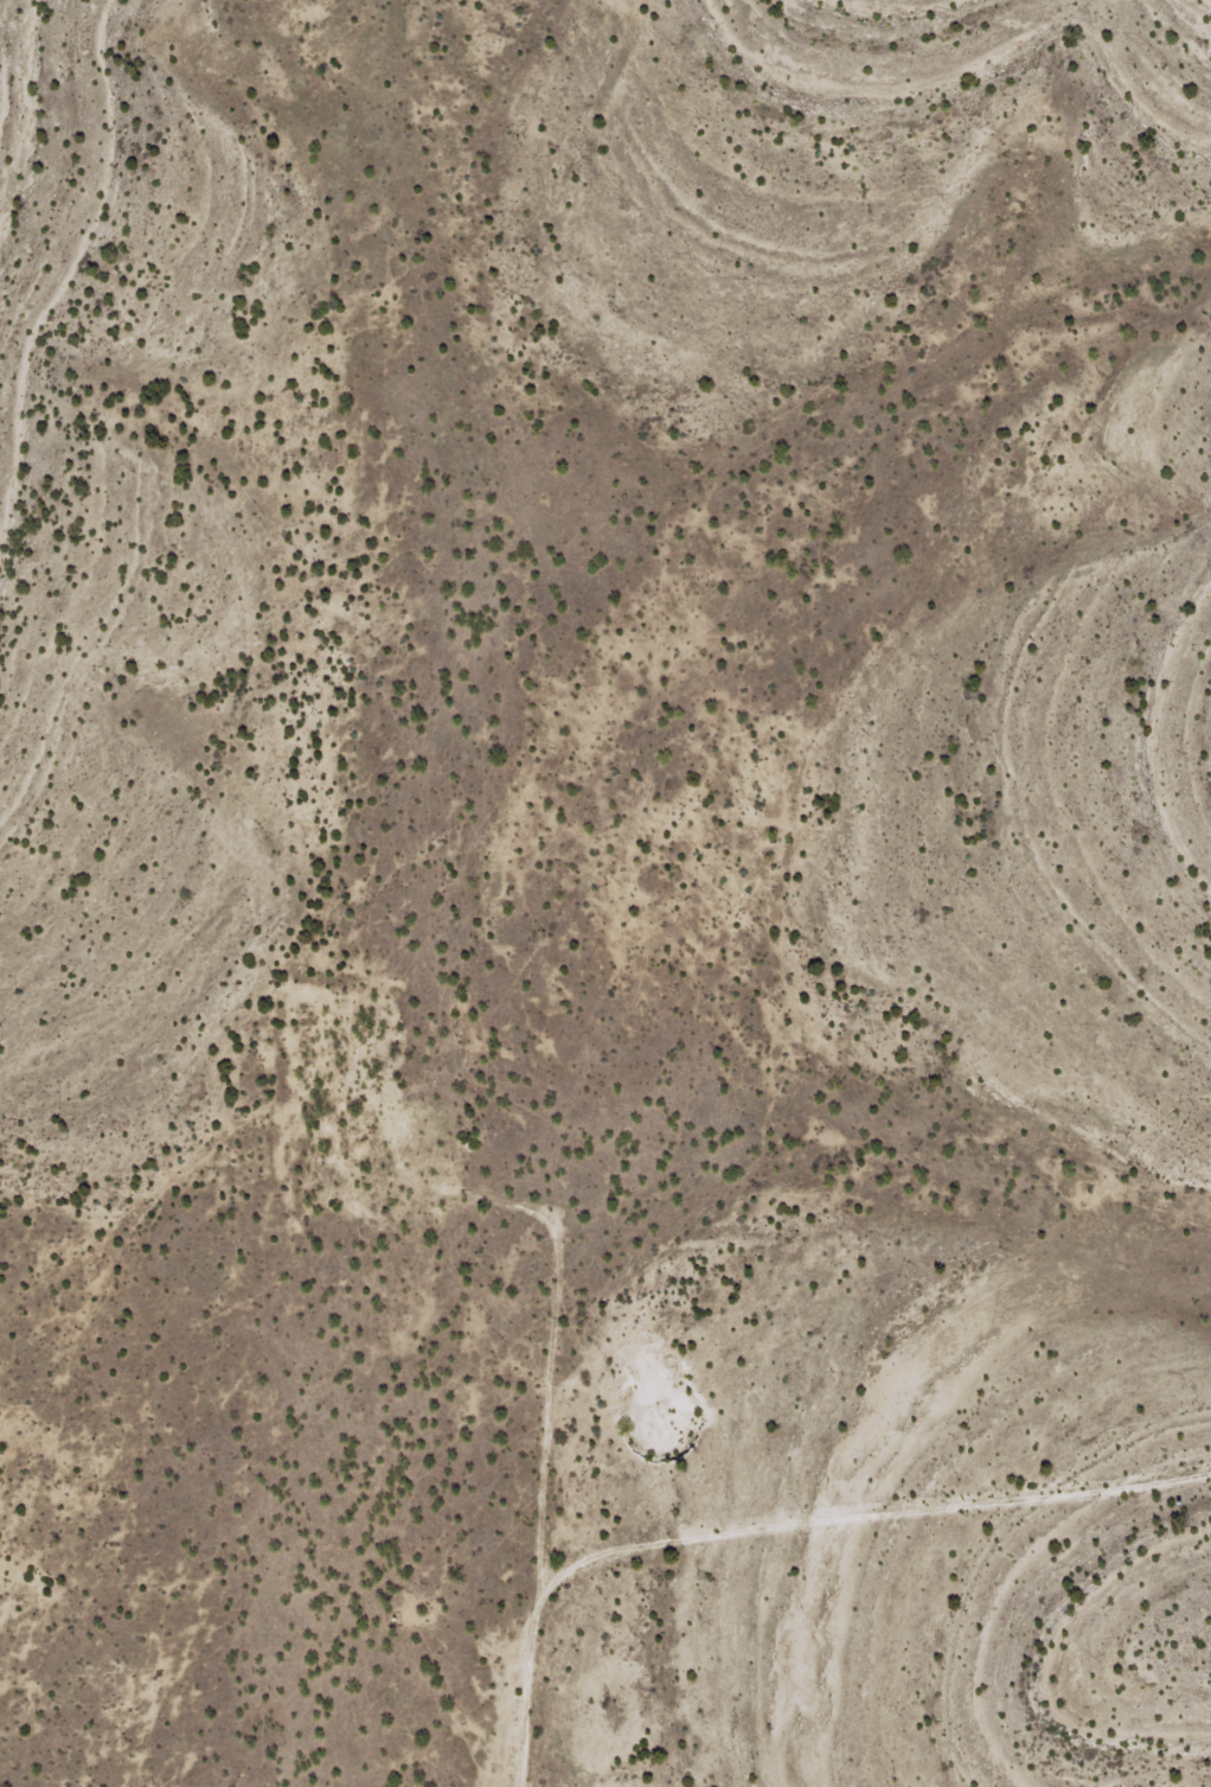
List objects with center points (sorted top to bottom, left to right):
road: (547, 1462)

